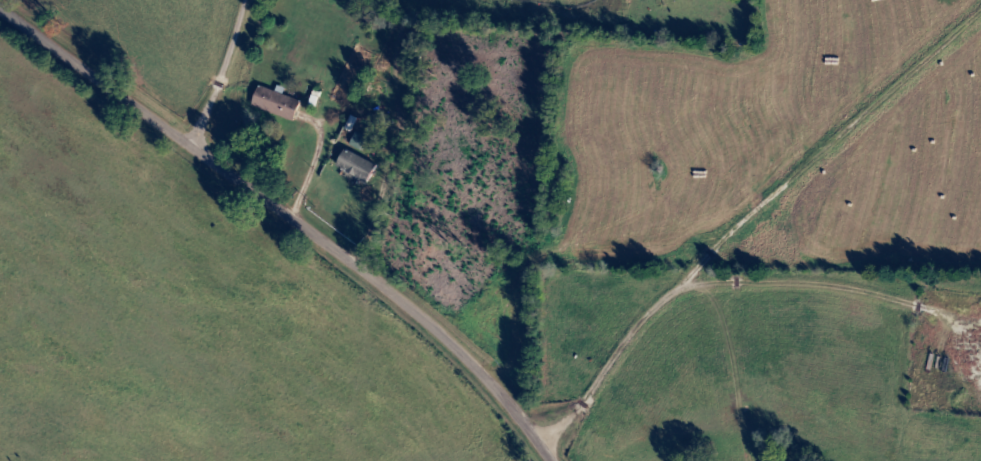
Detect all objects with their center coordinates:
road: (90, 26)
road: (228, 76)
road: (99, 78)
building: (276, 104)
building: (358, 142)
building: (357, 166)
road: (642, 246)
road: (386, 291)

